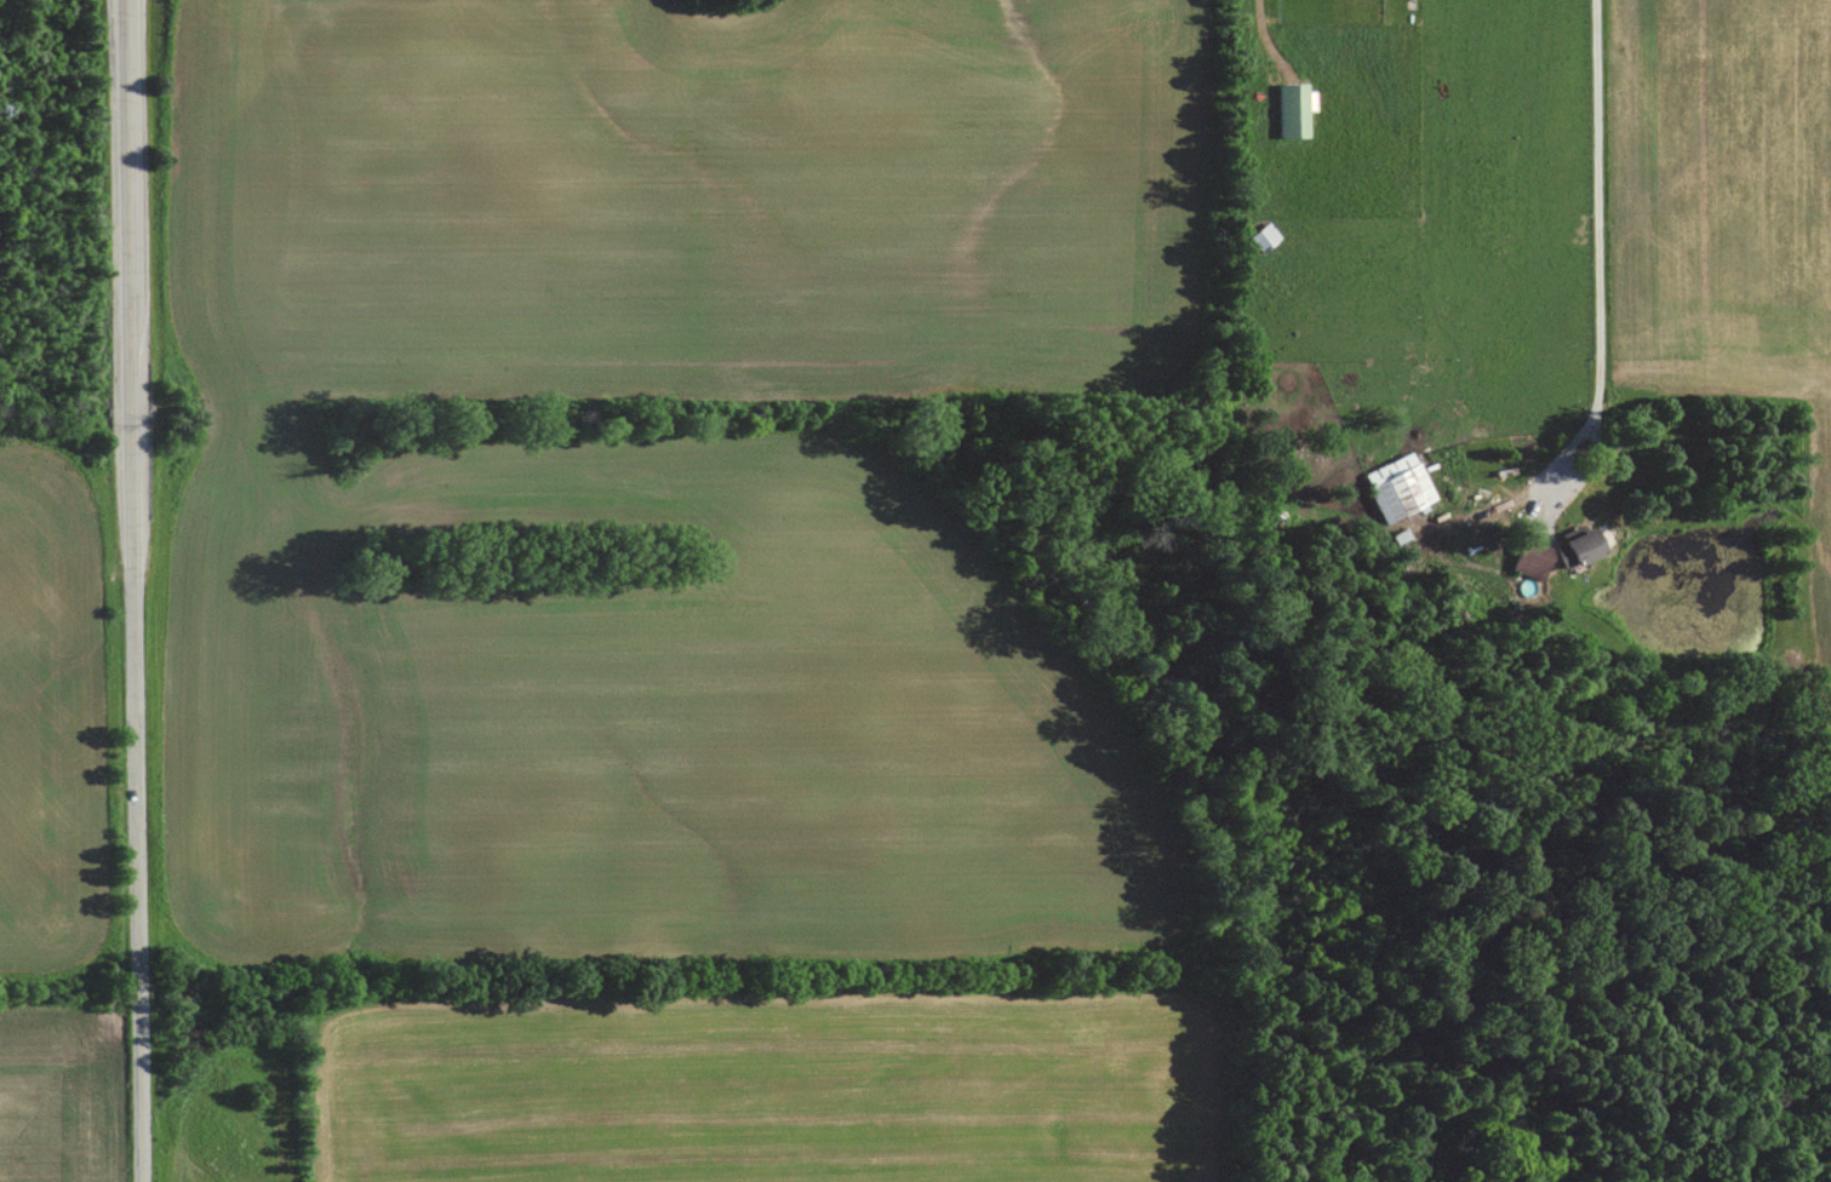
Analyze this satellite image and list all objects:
road: (1263, 33)
building: (1293, 108)
road: (1598, 258)
building: (1402, 483)
building: (1575, 545)
building: (1532, 558)
road: (135, 590)

